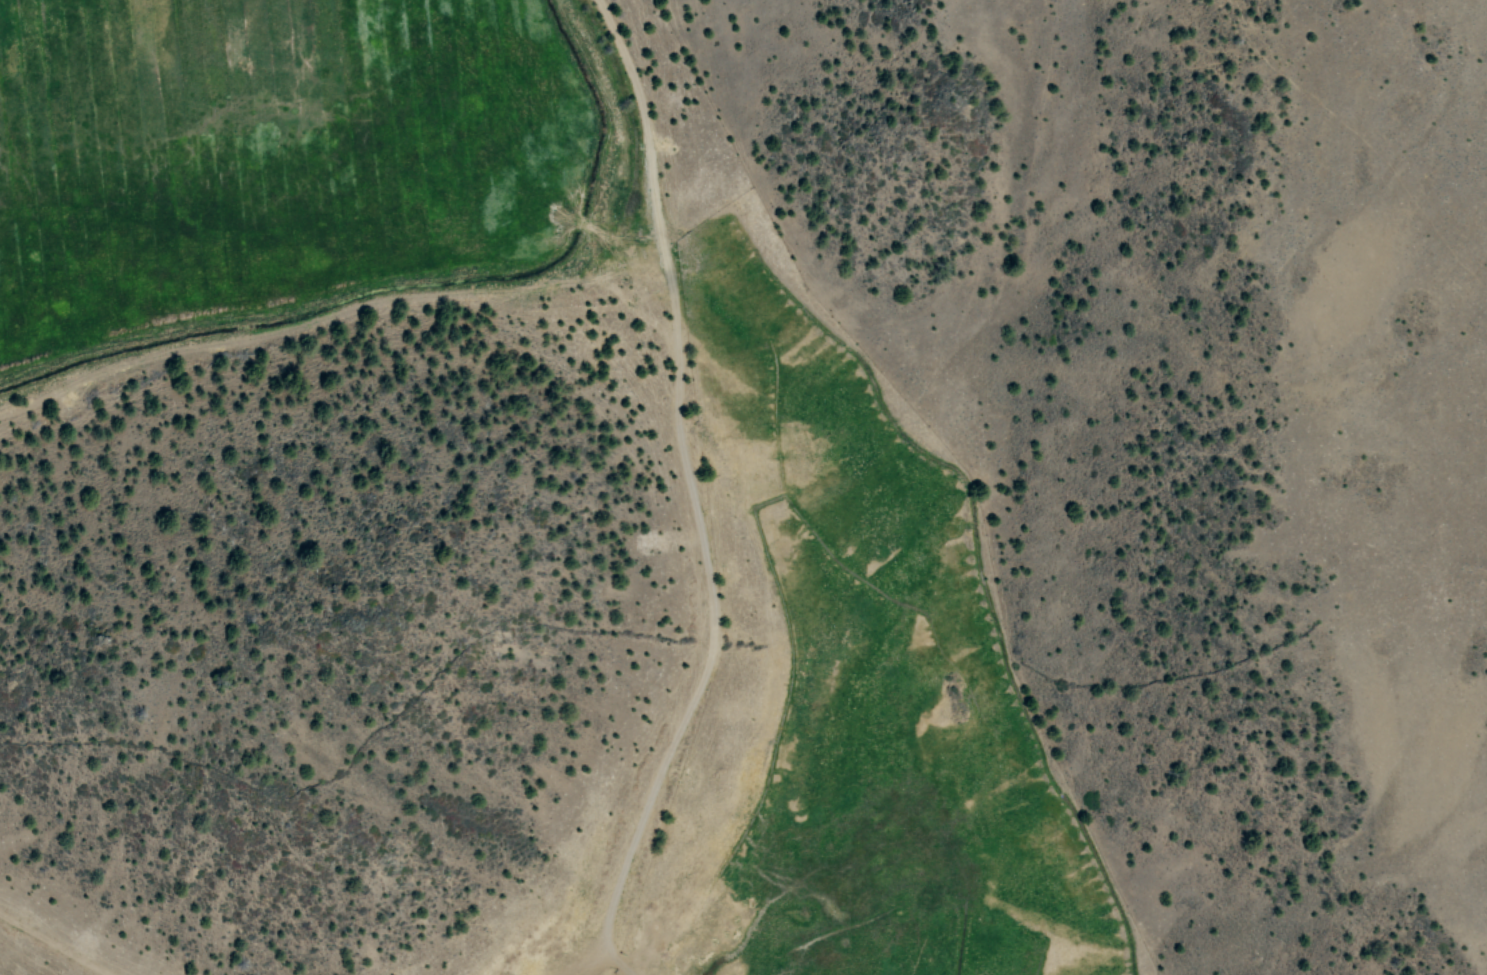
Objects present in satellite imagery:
road: (690, 496)

